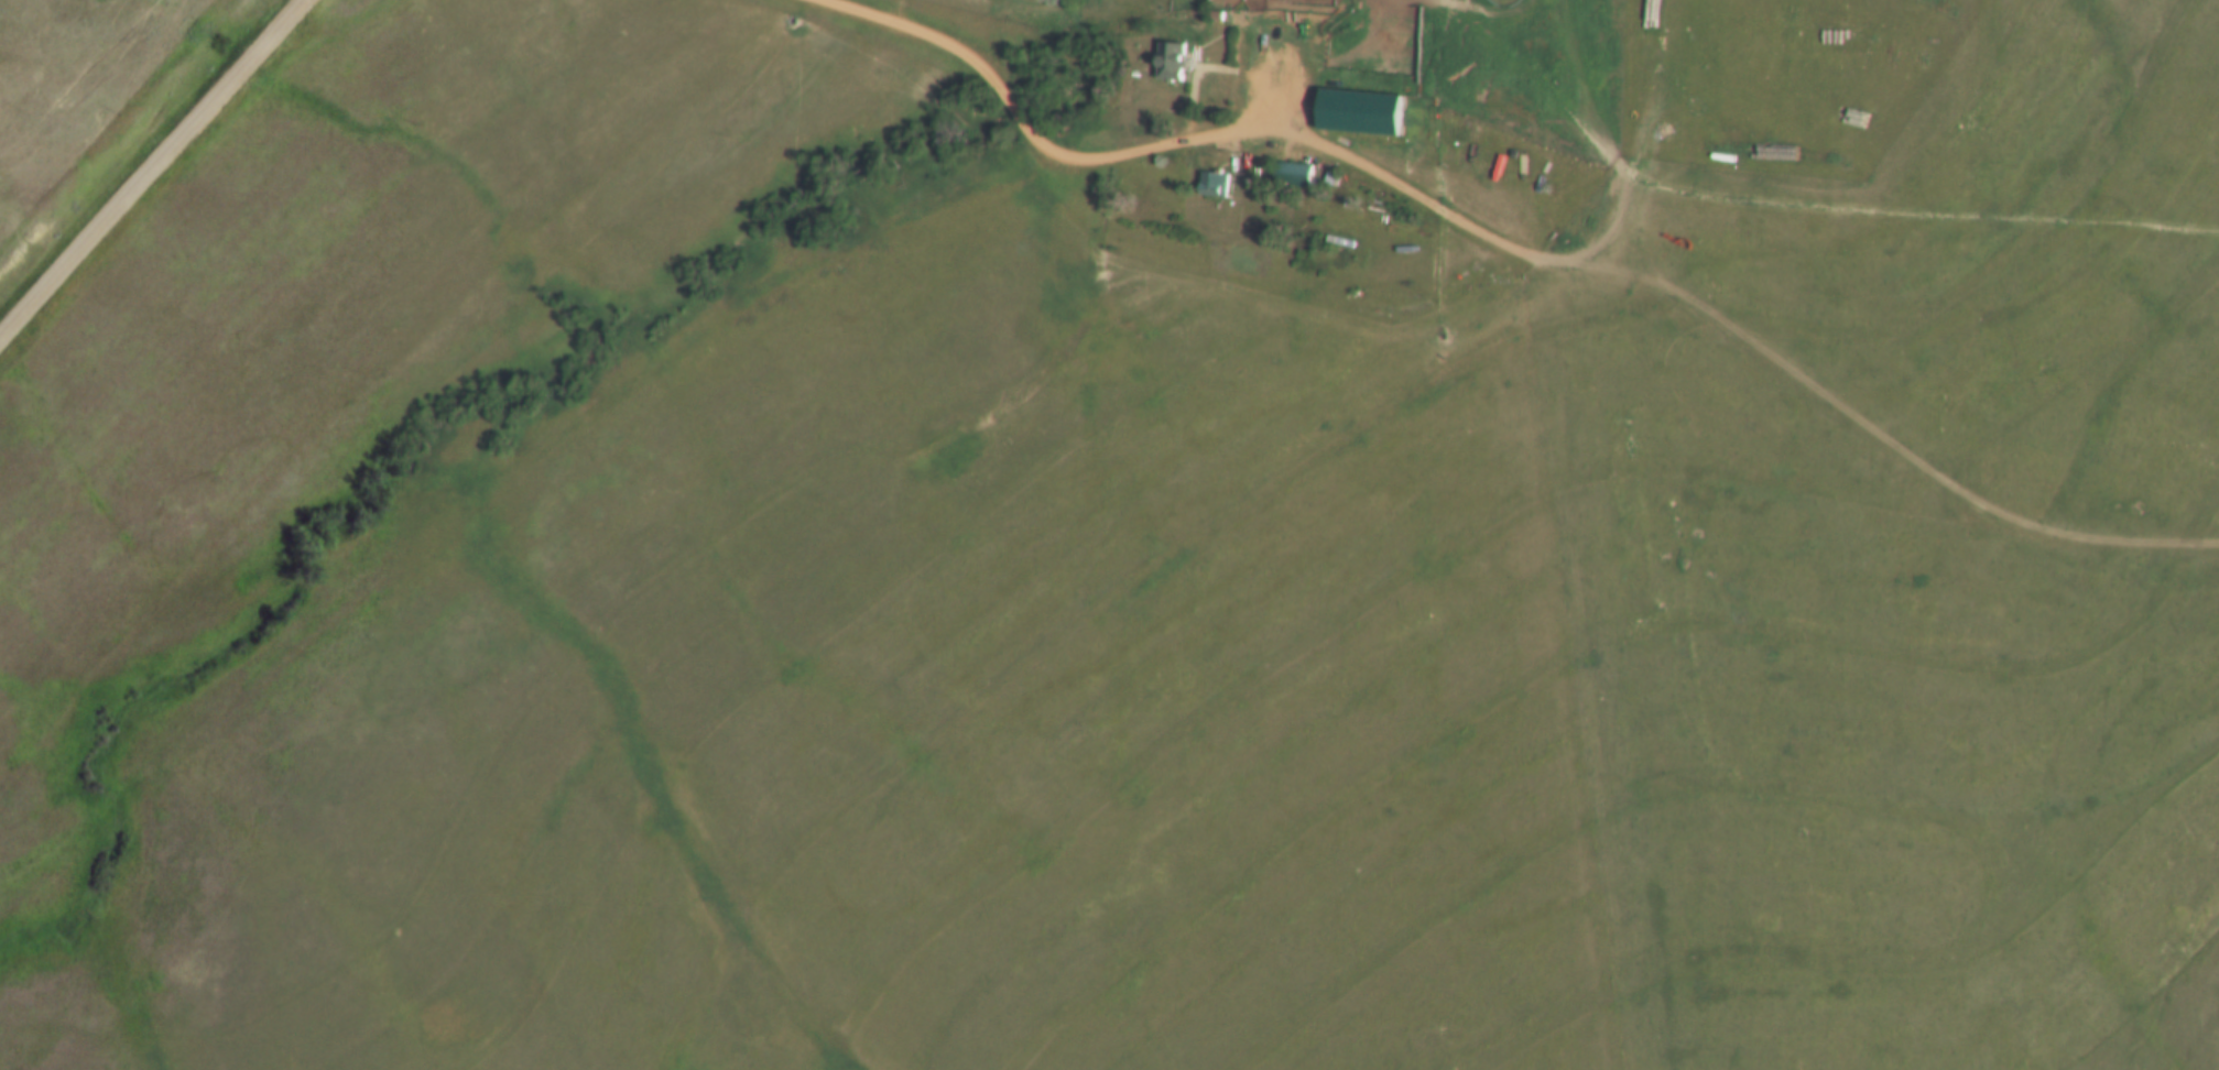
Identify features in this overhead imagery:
building: (1397, 55)
building: (1171, 65)
building: (1335, 113)
road: (1182, 141)
road: (152, 172)
building: (1214, 187)
road: (1895, 315)

